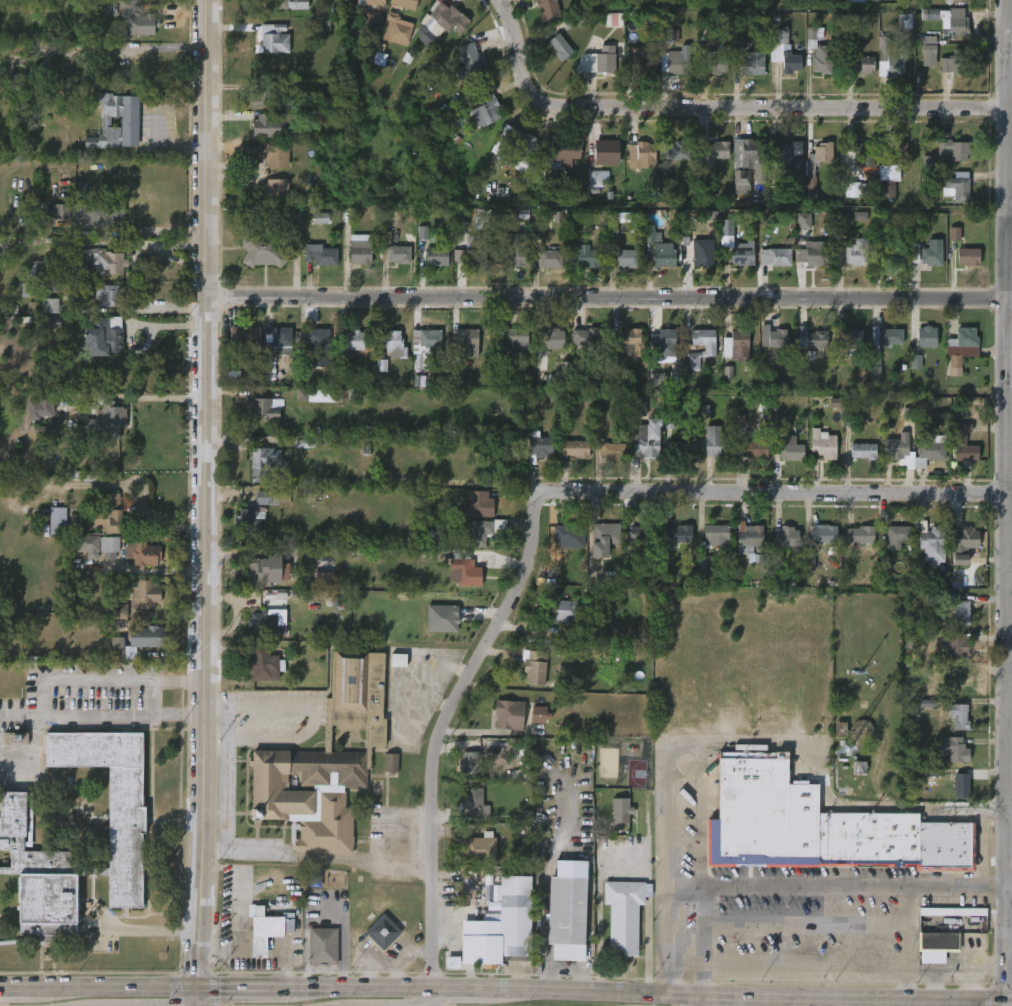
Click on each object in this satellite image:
building: (956, 1)
building: (370, 2)
building: (405, 3)
building: (285, 4)
building: (547, 9)
building: (137, 18)
building: (613, 19)
building: (574, 20)
building: (904, 21)
building: (459, 24)
building: (956, 27)
building: (389, 31)
building: (670, 37)
building: (274, 38)
building: (559, 47)
building: (784, 50)
building: (927, 50)
building: (820, 51)
building: (890, 58)
building: (602, 60)
building: (640, 62)
building: (673, 62)
building: (956, 62)
building: (469, 63)
building: (718, 63)
building: (753, 63)
building: (859, 64)
building: (263, 95)
road: (719, 107)
building: (486, 110)
building: (114, 122)
building: (273, 125)
building: (720, 149)
building: (518, 150)
building: (955, 150)
building: (674, 151)
building: (564, 152)
building: (606, 152)
building: (863, 153)
building: (272, 154)
building: (642, 154)
building: (787, 155)
building: (818, 156)
building: (747, 161)
building: (928, 162)
building: (890, 169)
building: (598, 178)
building: (958, 187)
building: (855, 190)
building: (271, 191)
road: (1009, 209)
building: (61, 211)
building: (710, 215)
building: (95, 216)
building: (290, 217)
building: (320, 218)
building: (482, 219)
building: (840, 219)
building: (803, 221)
road: (161, 231)
building: (422, 233)
building: (652, 234)
building: (953, 234)
building: (385, 237)
road: (161, 246)
building: (258, 247)
building: (697, 247)
building: (359, 249)
building: (475, 249)
building: (514, 250)
building: (816, 252)
building: (857, 252)
building: (395, 254)
building: (744, 254)
building: (915, 255)
building: (320, 256)
building: (438, 256)
building: (663, 256)
building: (584, 257)
building: (775, 257)
building: (892, 257)
building: (932, 257)
building: (970, 257)
building: (626, 258)
building: (550, 259)
building: (102, 262)
building: (41, 272)
building: (107, 295)
road: (607, 297)
building: (49, 305)
building: (243, 334)
building: (110, 335)
building: (515, 336)
building: (890, 337)
building: (927, 337)
building: (593, 338)
building: (772, 338)
building: (811, 338)
building: (554, 339)
building: (350, 340)
building: (467, 340)
building: (427, 341)
building: (849, 341)
building: (393, 342)
building: (631, 343)
building: (665, 343)
building: (278, 344)
building: (314, 345)
building: (735, 345)
building: (962, 347)
building: (710, 348)
building: (915, 362)
building: (381, 366)
building: (343, 371)
building: (565, 371)
building: (457, 374)
building: (657, 379)
building: (320, 395)
building: (39, 406)
building: (637, 407)
building: (262, 409)
building: (106, 420)
building: (646, 439)
building: (717, 444)
building: (823, 445)
building: (965, 445)
building: (538, 447)
building: (575, 449)
building: (793, 449)
building: (932, 449)
building: (610, 450)
building: (680, 451)
building: (754, 451)
building: (863, 451)
building: (900, 451)
building: (267, 463)
road: (778, 493)
road: (205, 494)
road: (1007, 500)
building: (479, 505)
building: (111, 515)
building: (253, 516)
building: (56, 521)
building: (482, 531)
building: (643, 533)
building: (677, 535)
building: (824, 535)
building: (861, 535)
building: (568, 536)
building: (787, 537)
building: (897, 537)
building: (748, 538)
building: (603, 539)
building: (933, 543)
building: (965, 543)
building: (109, 544)
building: (712, 545)
building: (88, 546)
building: (142, 552)
building: (810, 561)
building: (267, 570)
road: (150, 572)
building: (467, 572)
building: (323, 579)
building: (144, 593)
building: (959, 608)
building: (570, 609)
building: (119, 611)
building: (442, 618)
building: (265, 624)
building: (599, 628)
building: (137, 640)
building: (956, 645)
building: (398, 660)
building: (263, 664)
building: (534, 668)
building: (954, 679)
road: (42, 699)
building: (926, 703)
road: (228, 713)
building: (508, 713)
building: (538, 714)
building: (959, 715)
road: (311, 721)
road: (445, 727)
building: (860, 730)
building: (15, 738)
road: (680, 743)
building: (954, 749)
building: (525, 756)
building: (470, 762)
building: (326, 763)
building: (391, 763)
building: (961, 784)
road: (227, 785)
building: (475, 803)
road: (836, 805)
building: (620, 811)
building: (823, 827)
building: (128, 839)
building: (479, 848)
road: (215, 852)
road: (330, 858)
road: (783, 888)
road: (535, 891)
building: (567, 911)
building: (947, 912)
building: (623, 914)
building: (514, 915)
road: (148, 930)
building: (267, 930)
building: (382, 932)
road: (1010, 937)
road: (704, 941)
building: (937, 942)
road: (907, 943)
building: (242, 945)
building: (485, 945)
building: (321, 946)
road: (806, 962)
road: (988, 968)
road: (937, 969)
road: (930, 984)
road: (967, 984)
road: (354, 986)
road: (460, 986)
road: (238, 987)
road: (14, 988)
road: (115, 988)
traffic signals: (201, 988)
road: (511, 988)
road: (620, 992)
road: (433, 995)
road: (734, 995)
road: (201, 997)
road: (885, 998)
road: (706, 1000)
traffic signals: (1009, 1000)
road: (1010, 1000)
road: (1009, 1003)

